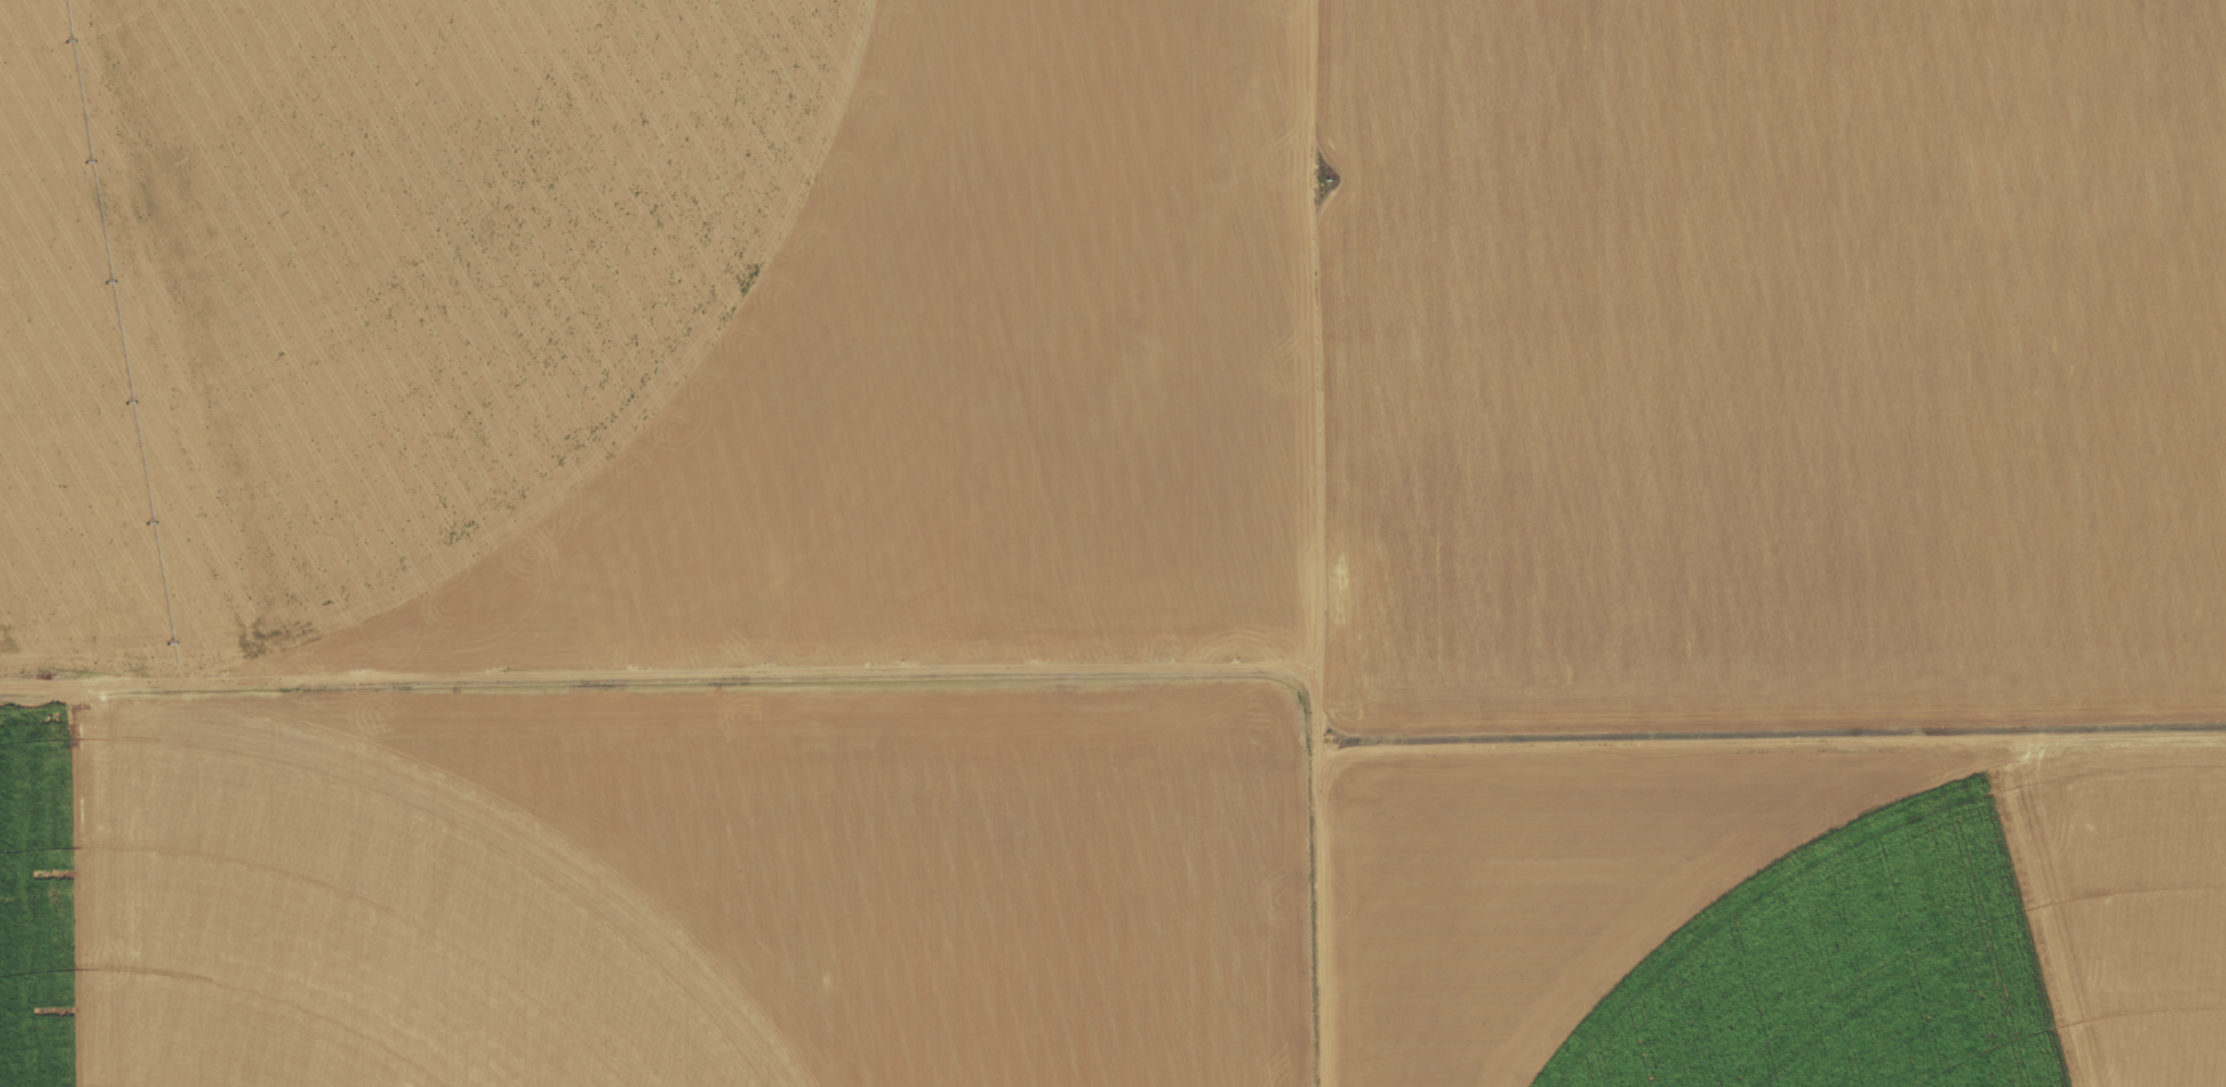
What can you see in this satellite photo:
road: (1299, 543)
road: (651, 687)

